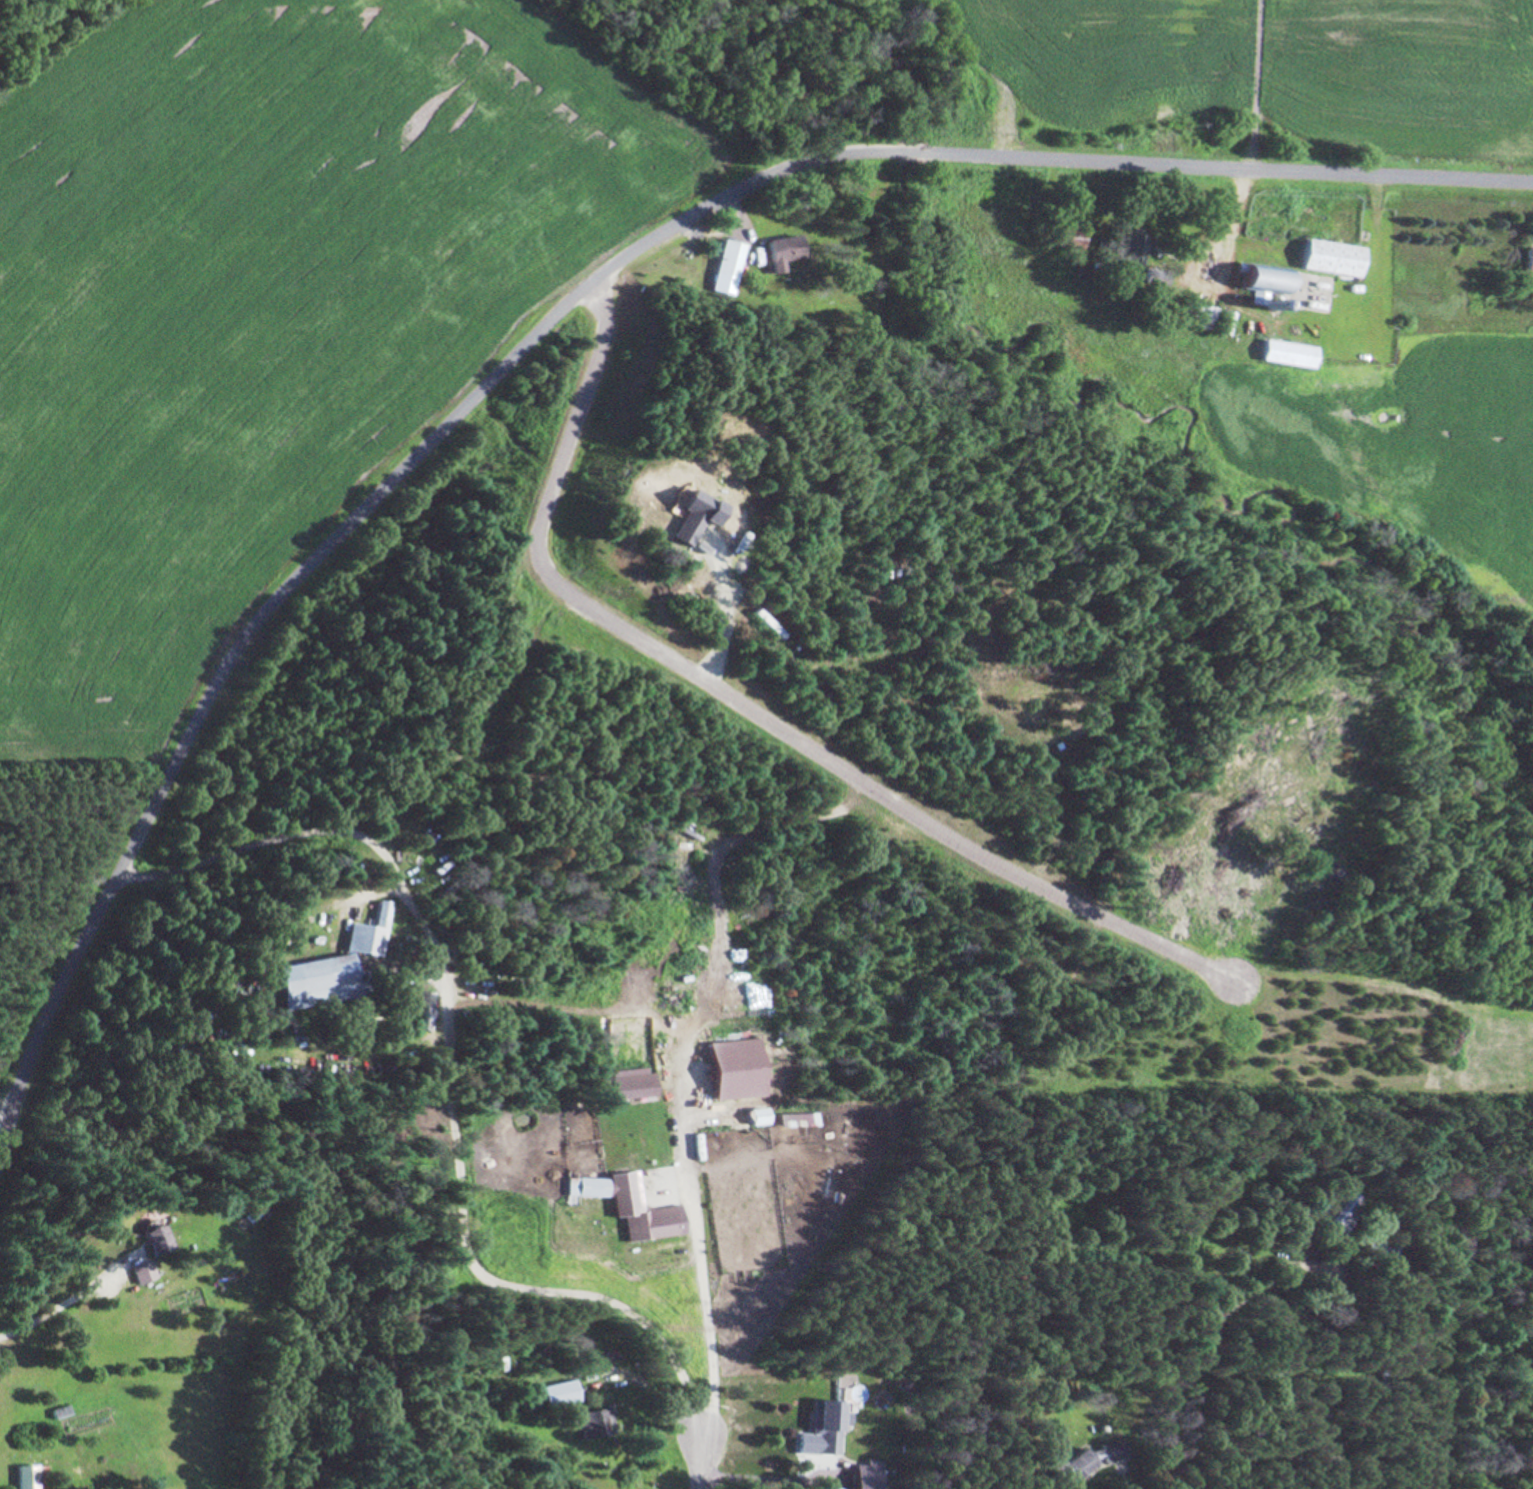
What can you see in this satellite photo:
building: (1073, 240)
building: (1139, 248)
building: (787, 250)
building: (1335, 257)
building: (1529, 258)
road: (624, 259)
building: (733, 266)
building: (1198, 314)
building: (1230, 322)
building: (1292, 352)
road: (754, 713)
building: (363, 940)
building: (294, 974)
road: (28, 1052)
building: (585, 1186)
building: (1339, 1214)
building: (147, 1236)
building: (1374, 1246)
building: (135, 1271)
building: (552, 1393)
building: (592, 1420)
building: (822, 1424)
building: (1084, 1460)
road: (698, 1461)
building: (18, 1476)

